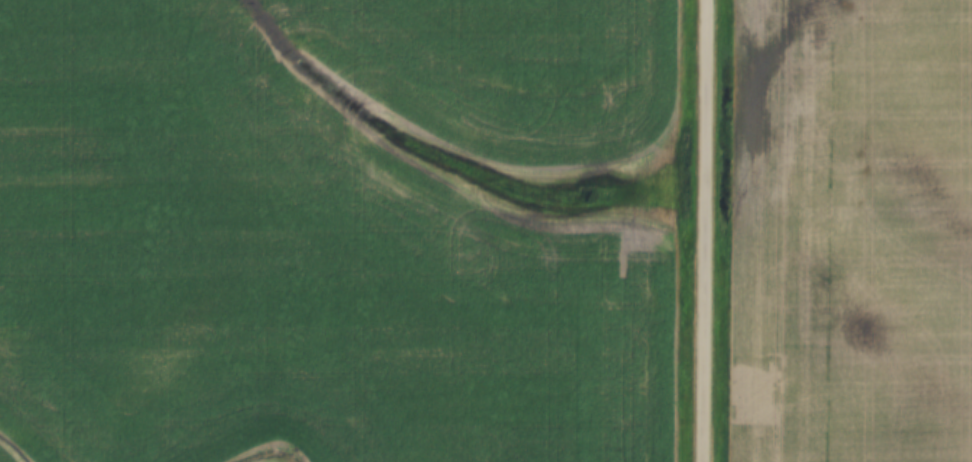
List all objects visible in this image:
road: (702, 231)

